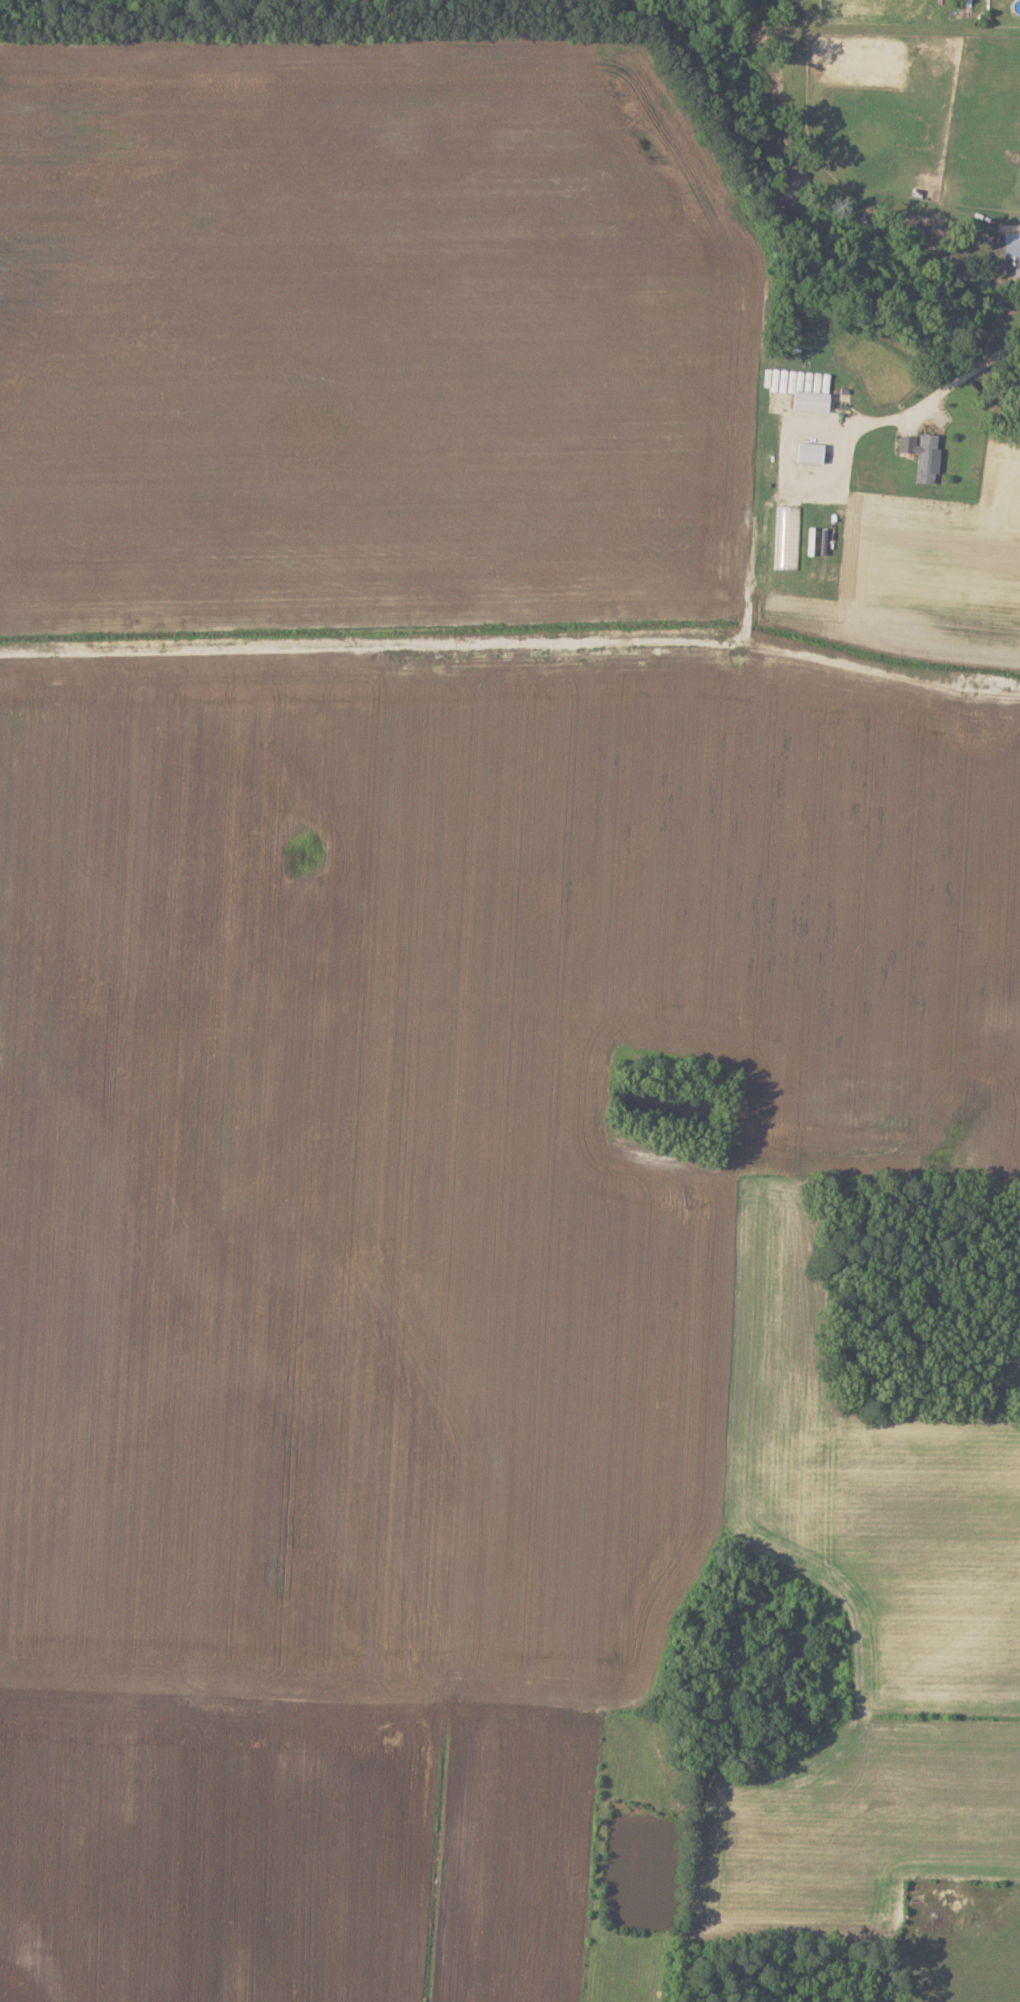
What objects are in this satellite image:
building: (1013, 243)
building: (803, 387)
road: (928, 393)
building: (812, 452)
building: (925, 453)

